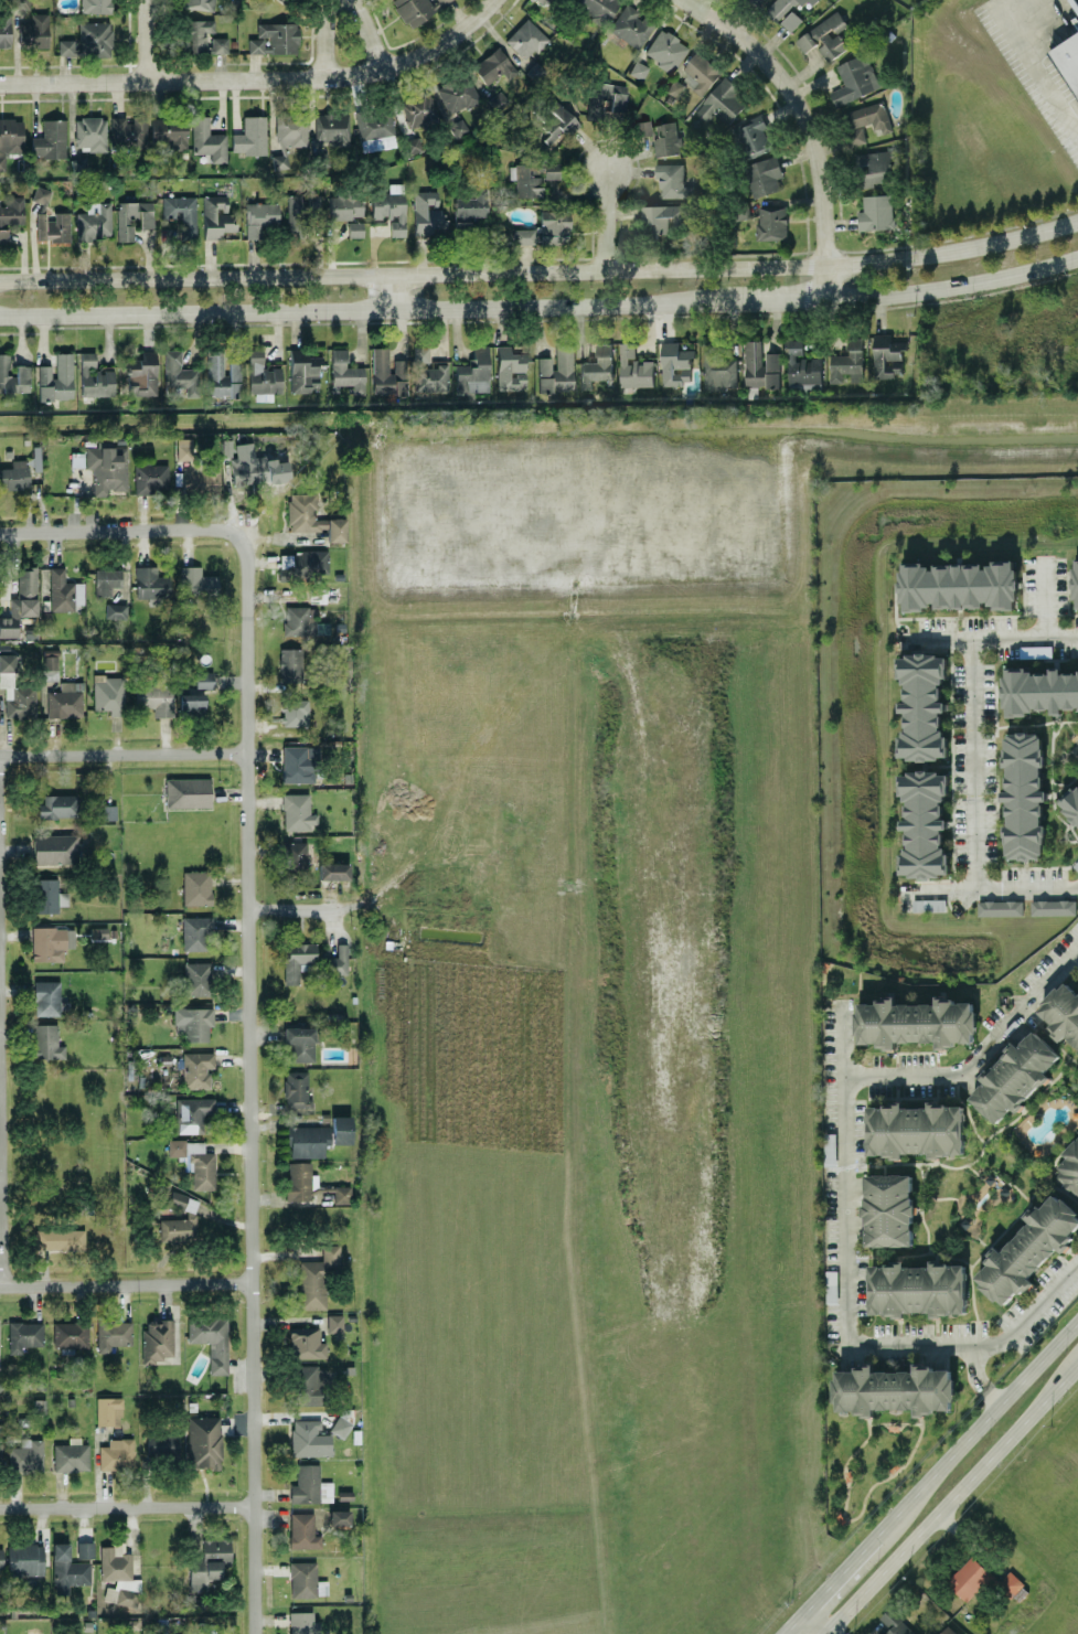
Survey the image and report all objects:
building: (542, 0)
building: (761, 0)
building: (285, 1)
building: (810, 2)
building: (198, 3)
building: (95, 6)
road: (1013, 7)
building: (598, 8)
building: (780, 8)
building: (415, 9)
building: (792, 20)
building: (630, 24)
building: (4, 29)
building: (33, 30)
building: (198, 32)
road: (370, 33)
building: (825, 36)
building: (95, 38)
building: (274, 38)
road: (322, 38)
building: (525, 38)
road: (145, 39)
building: (218, 43)
building: (65, 45)
building: (665, 49)
building: (1068, 56)
building: (492, 65)
building: (638, 68)
building: (700, 72)
road: (1040, 74)
road: (257, 76)
building: (855, 79)
building: (674, 87)
building: (457, 93)
building: (606, 99)
building: (721, 104)
building: (418, 109)
building: (554, 120)
building: (864, 121)
road: (809, 125)
building: (641, 126)
building: (330, 127)
building: (375, 128)
building: (291, 129)
building: (128, 130)
building: (168, 131)
building: (90, 132)
building: (249, 135)
building: (754, 136)
building: (10, 137)
building: (50, 138)
building: (206, 139)
building: (666, 139)
building: (279, 160)
building: (78, 163)
building: (873, 168)
building: (765, 174)
building: (532, 175)
building: (673, 181)
building: (40, 193)
building: (345, 205)
building: (389, 206)
building: (469, 207)
building: (301, 210)
building: (426, 211)
building: (181, 212)
building: (876, 212)
building: (10, 213)
building: (215, 215)
building: (259, 216)
building: (660, 216)
building: (132, 217)
road: (609, 218)
building: (94, 221)
building: (772, 222)
building: (553, 225)
building: (52, 226)
building: (354, 227)
building: (523, 234)
road: (541, 270)
road: (954, 287)
road: (394, 290)
road: (764, 300)
road: (349, 308)
building: (887, 354)
building: (675, 362)
building: (847, 363)
building: (719, 365)
building: (760, 365)
building: (597, 366)
building: (634, 366)
building: (510, 367)
building: (802, 367)
building: (555, 369)
building: (303, 370)
building: (428, 370)
building: (473, 371)
building: (344, 372)
building: (387, 372)
building: (141, 373)
building: (180, 373)
building: (221, 374)
building: (13, 375)
building: (94, 376)
building: (263, 376)
building: (55, 377)
building: (183, 447)
building: (226, 447)
building: (76, 458)
building: (252, 468)
building: (106, 469)
building: (14, 473)
building: (149, 477)
building: (200, 477)
building: (312, 516)
road: (119, 528)
building: (310, 558)
building: (106, 580)
building: (196, 581)
building: (151, 584)
building: (1076, 584)
building: (959, 585)
building: (63, 590)
road: (1045, 595)
building: (20, 600)
building: (115, 610)
building: (300, 620)
road: (988, 637)
building: (7, 661)
building: (289, 663)
building: (50, 666)
building: (203, 677)
building: (1040, 691)
building: (108, 693)
building: (154, 696)
building: (65, 698)
building: (191, 702)
building: (924, 705)
building: (295, 711)
road: (124, 751)
building: (299, 762)
road: (973, 763)
building: (186, 791)
building: (1024, 794)
building: (1070, 803)
building: (57, 804)
building: (108, 811)
building: (297, 811)
building: (925, 824)
building: (54, 847)
building: (295, 856)
building: (332, 869)
road: (247, 877)
building: (196, 886)
road: (988, 888)
building: (49, 894)
building: (1053, 906)
road: (295, 907)
building: (1001, 907)
building: (195, 931)
building: (51, 941)
road: (1077, 949)
building: (298, 959)
building: (339, 959)
building: (198, 976)
building: (46, 996)
building: (1061, 1011)
building: (193, 1022)
building: (916, 1022)
road: (0, 1035)
building: (46, 1040)
building: (300, 1043)
road: (978, 1054)
building: (196, 1068)
building: (1015, 1076)
building: (296, 1088)
building: (192, 1113)
building: (341, 1128)
building: (916, 1129)
building: (308, 1139)
building: (830, 1149)
building: (195, 1161)
building: (1069, 1166)
road: (842, 1172)
building: (310, 1183)
road: (2, 1188)
building: (889, 1209)
building: (180, 1219)
building: (60, 1238)
building: (1028, 1249)
building: (316, 1277)
road: (126, 1282)
building: (832, 1285)
building: (918, 1288)
building: (334, 1322)
building: (70, 1333)
building: (111, 1333)
building: (23, 1334)
building: (210, 1338)
building: (157, 1339)
building: (306, 1342)
road: (978, 1342)
road: (979, 1375)
building: (310, 1384)
building: (894, 1389)
building: (108, 1410)
building: (340, 1425)
road: (253, 1427)
road: (978, 1427)
building: (309, 1437)
building: (203, 1441)
building: (162, 1442)
building: (116, 1453)
building: (25, 1454)
building: (71, 1454)
building: (310, 1485)
road: (950, 1497)
road: (127, 1505)
building: (339, 1516)
building: (302, 1530)
building: (84, 1548)
building: (0, 1557)
building: (24, 1559)
building: (209, 1561)
building: (67, 1567)
building: (119, 1572)
road: (839, 1572)
building: (969, 1578)
building: (306, 1579)
building: (1008, 1583)
building: (302, 1622)
road: (791, 1623)
road: (813, 1623)
building: (893, 1624)
building: (948, 1631)
road: (823, 1633)

